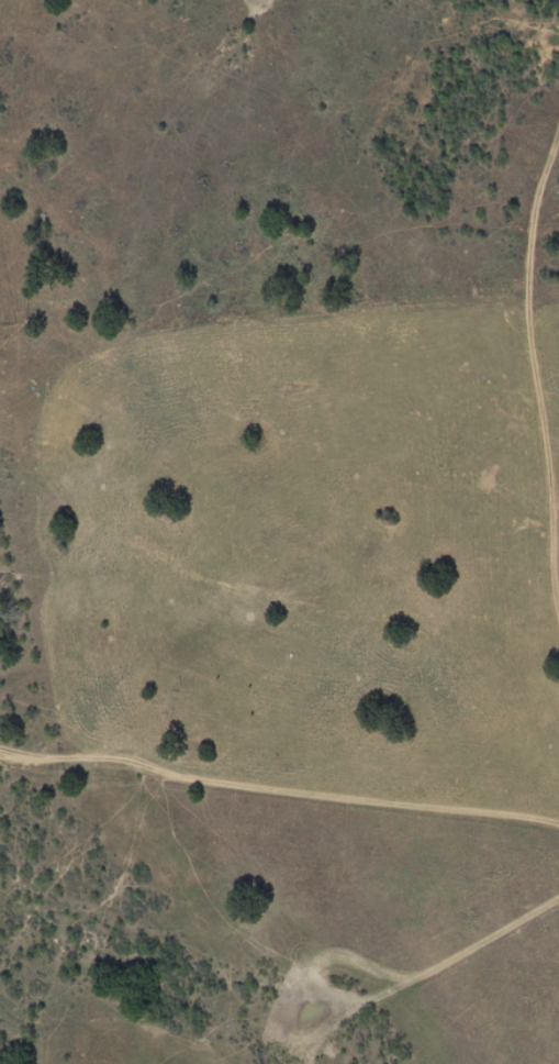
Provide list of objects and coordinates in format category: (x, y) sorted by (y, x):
road: (550, 355)
road: (279, 869)

